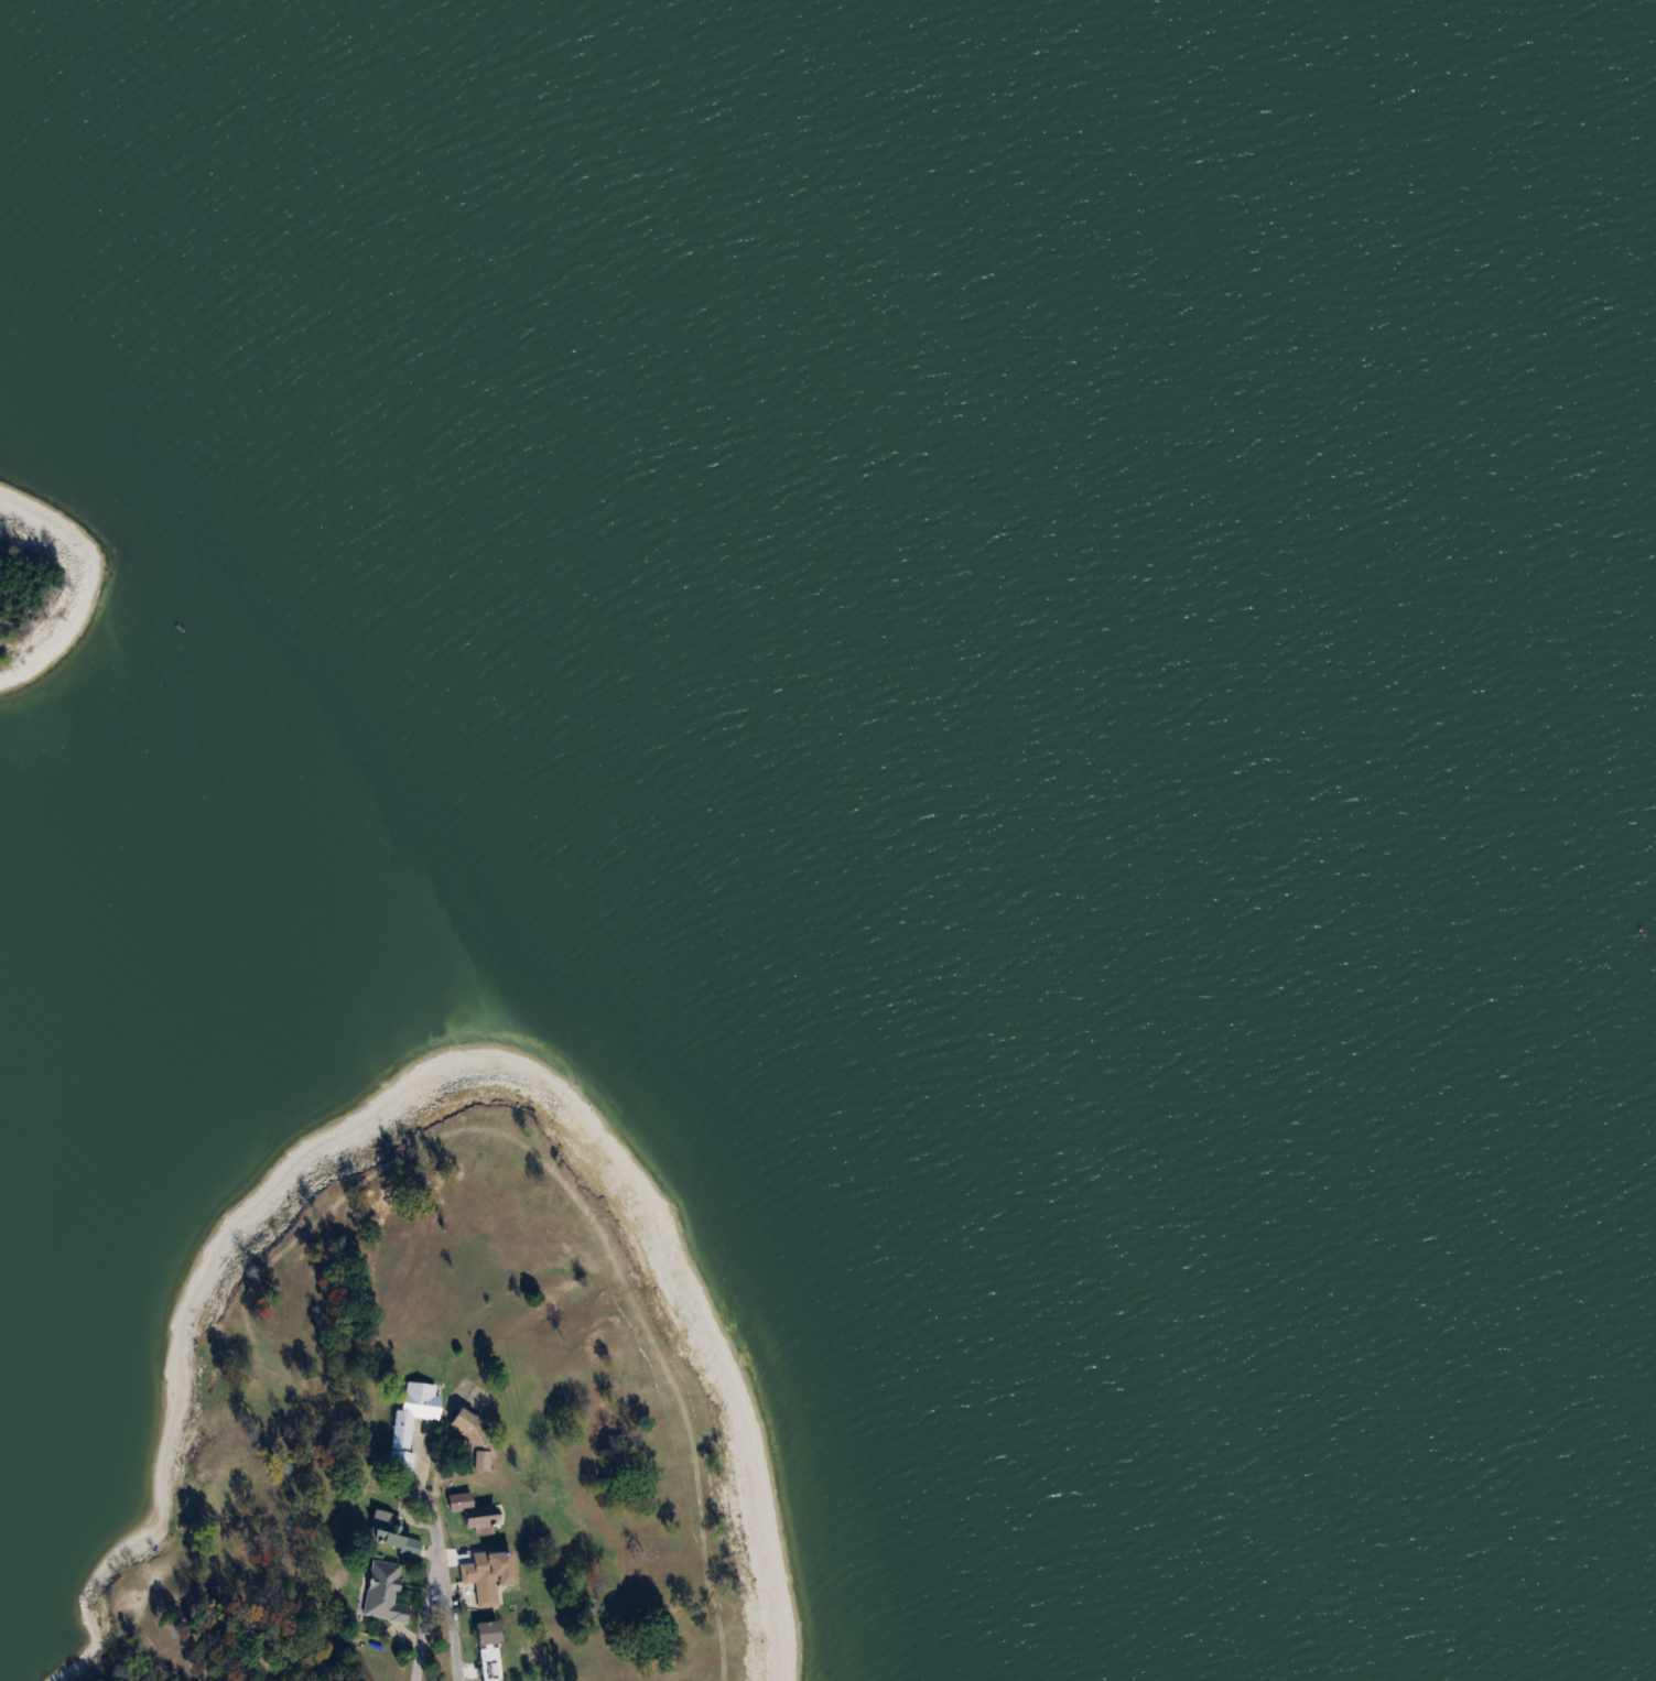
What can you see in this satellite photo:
river: (1470, 50)
building: (407, 1423)
building: (474, 1435)
road: (422, 1494)
building: (472, 1508)
building: (387, 1528)
building: (483, 1575)
building: (381, 1591)
road: (442, 1617)
road: (413, 1618)
building: (487, 1647)

